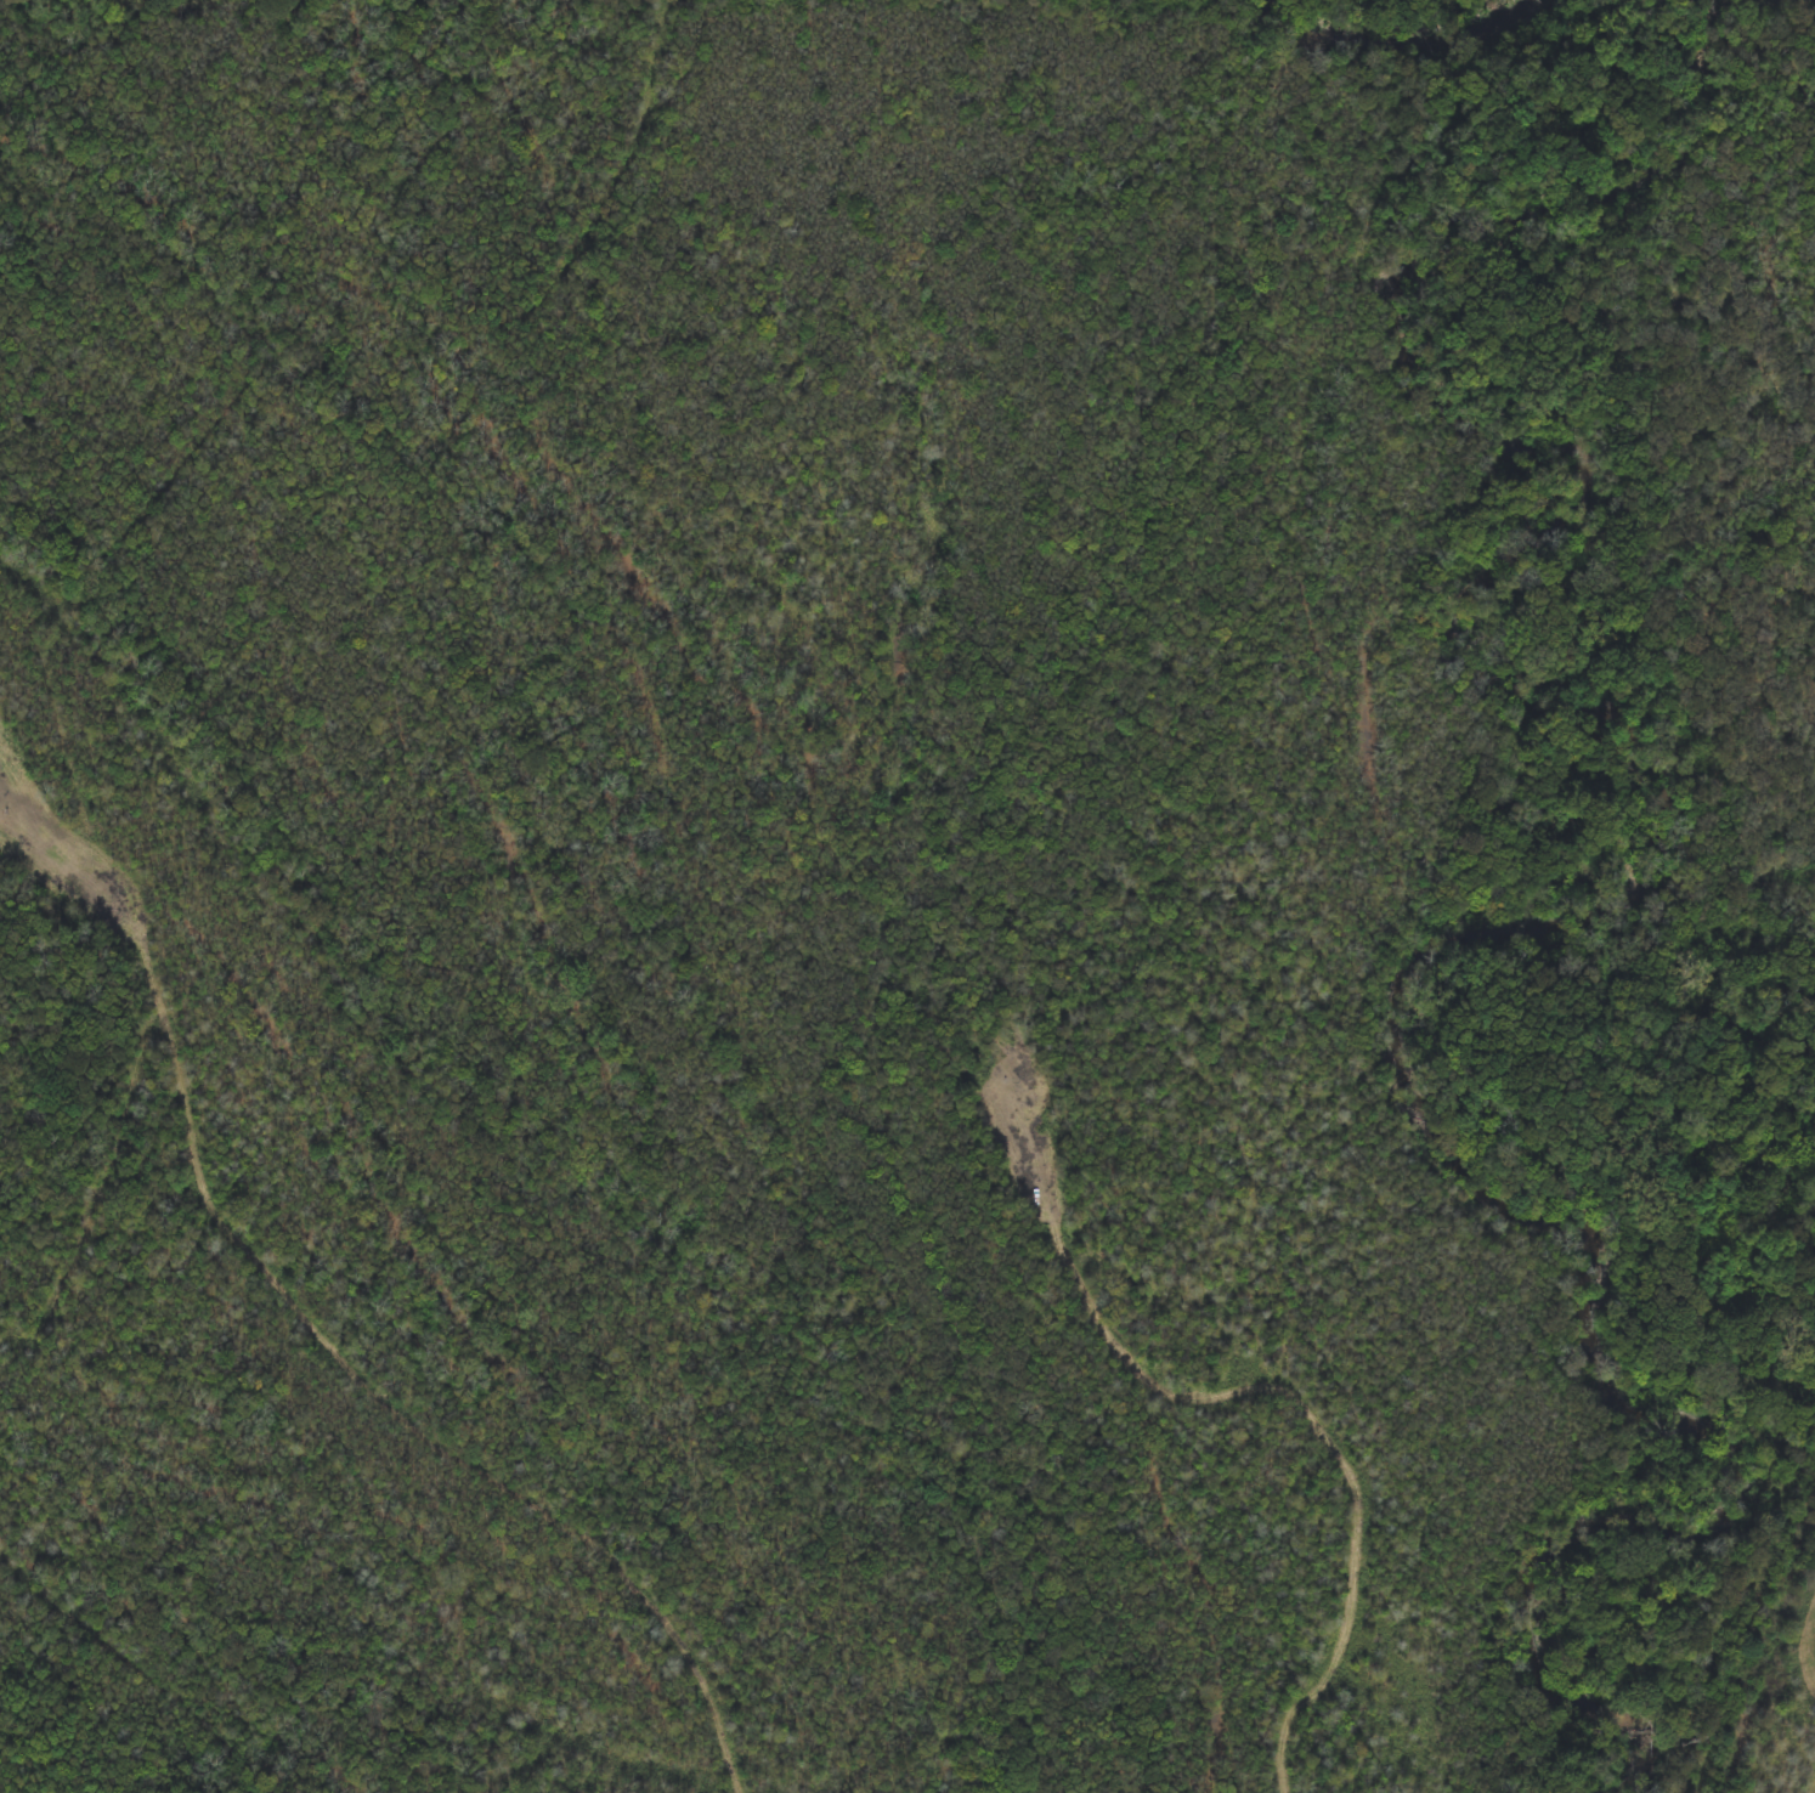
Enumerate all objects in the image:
river: (1404, 50)
river: (1605, 918)

